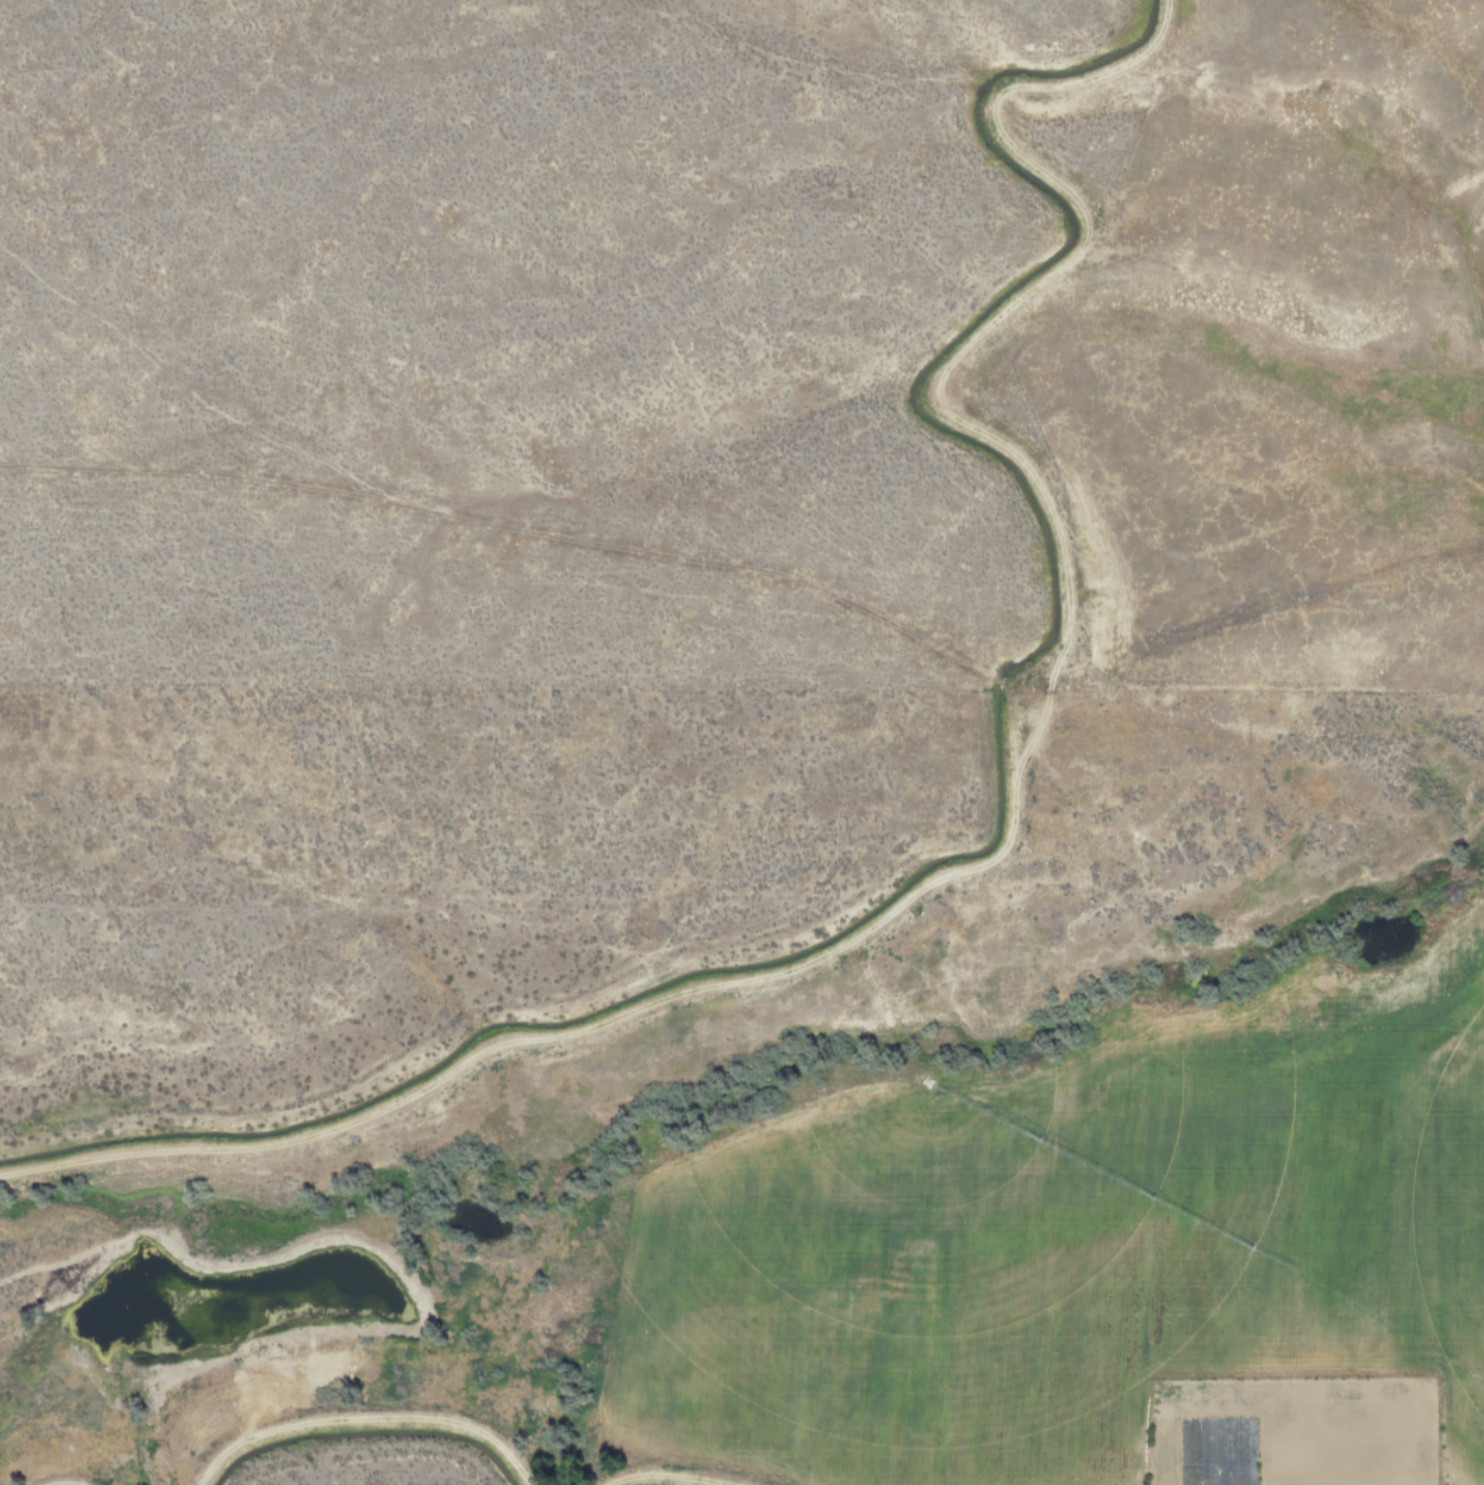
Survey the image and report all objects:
road: (368, 1419)
road: (671, 1476)
road: (68, 1484)

